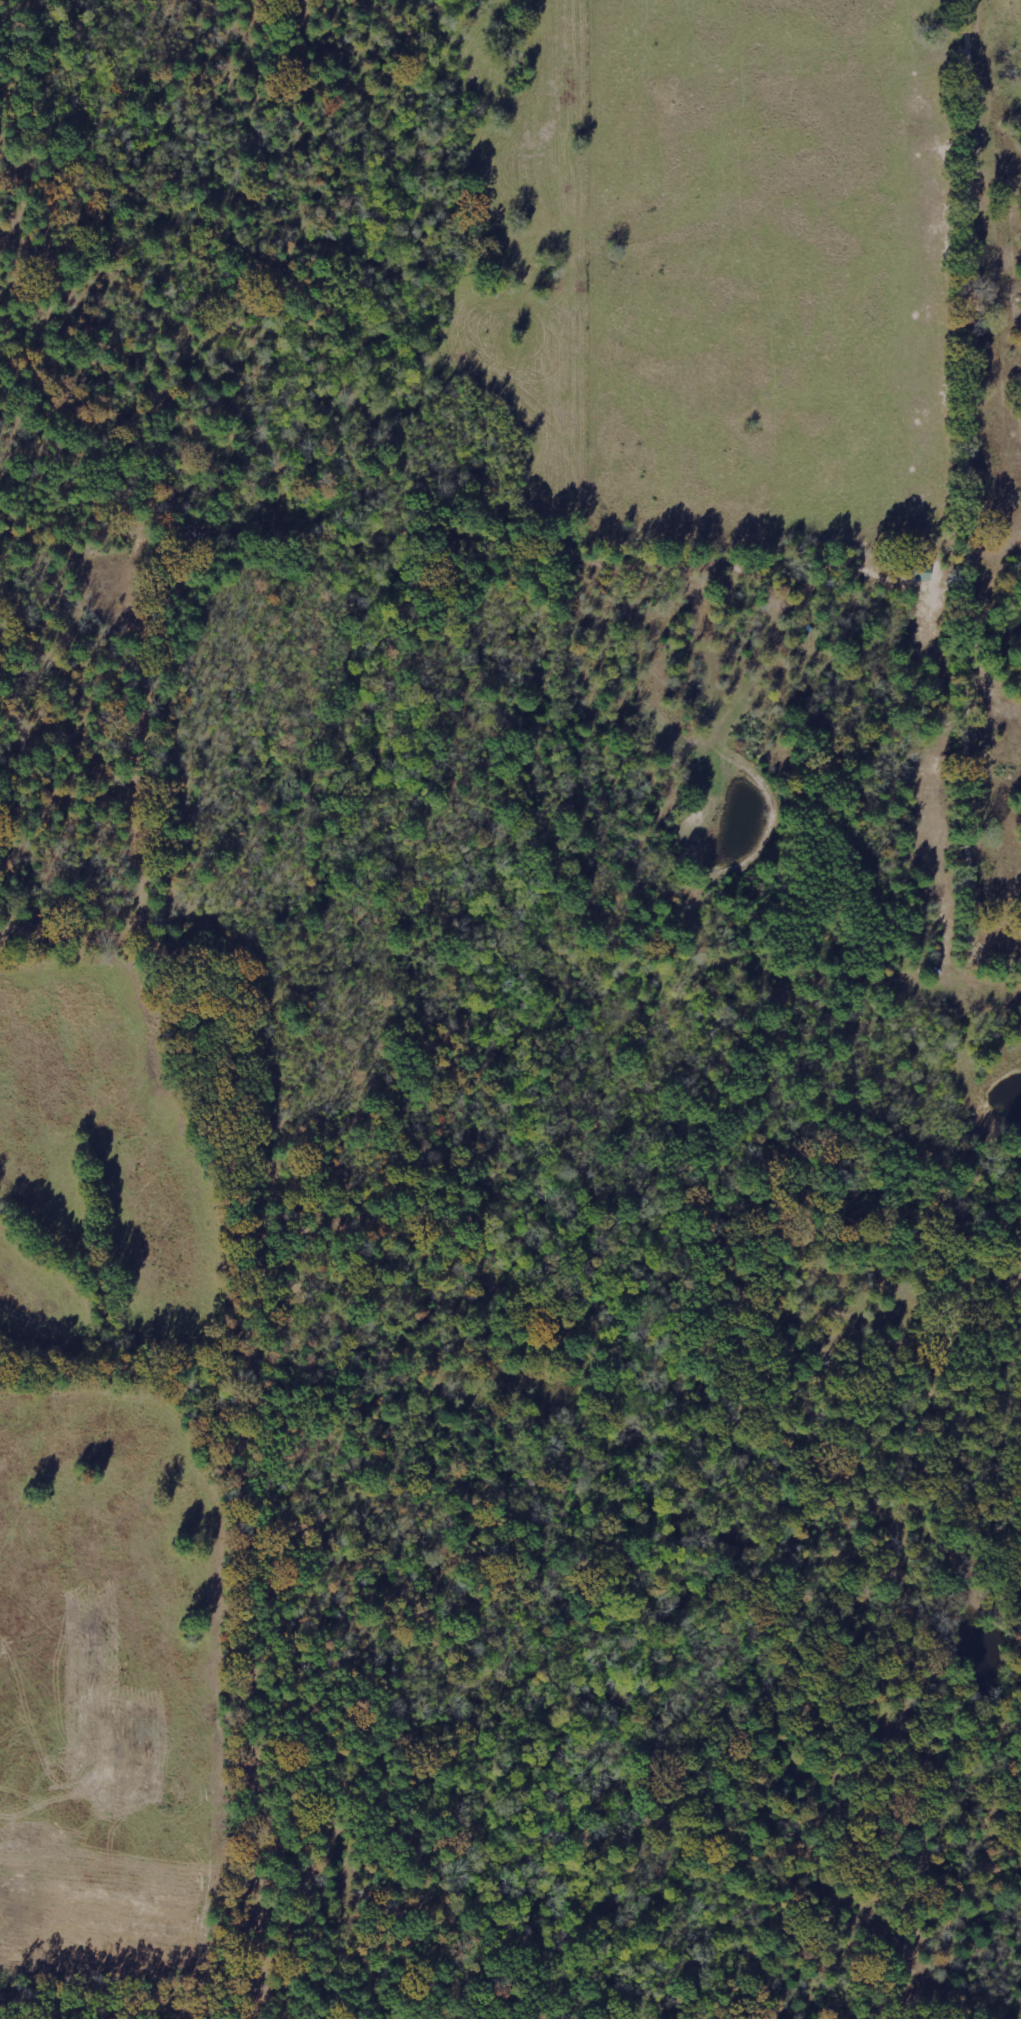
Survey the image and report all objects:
road: (974, 468)

